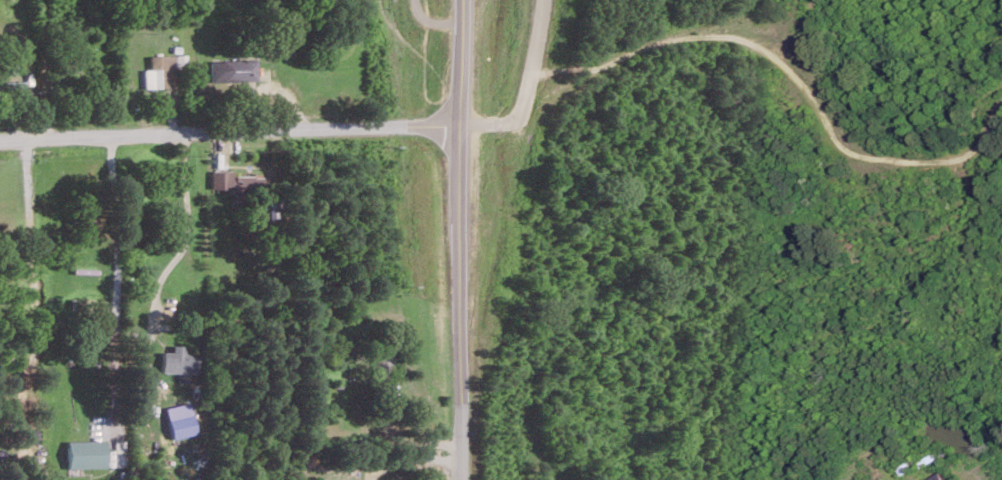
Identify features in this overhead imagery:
building: (233, 69)
building: (159, 71)
road: (793, 71)
road: (530, 90)
road: (229, 132)
building: (237, 182)
road: (186, 235)
road: (460, 240)
road: (116, 284)
road: (30, 299)
building: (178, 360)
building: (180, 420)
building: (84, 453)
road: (411, 458)
building: (936, 477)

